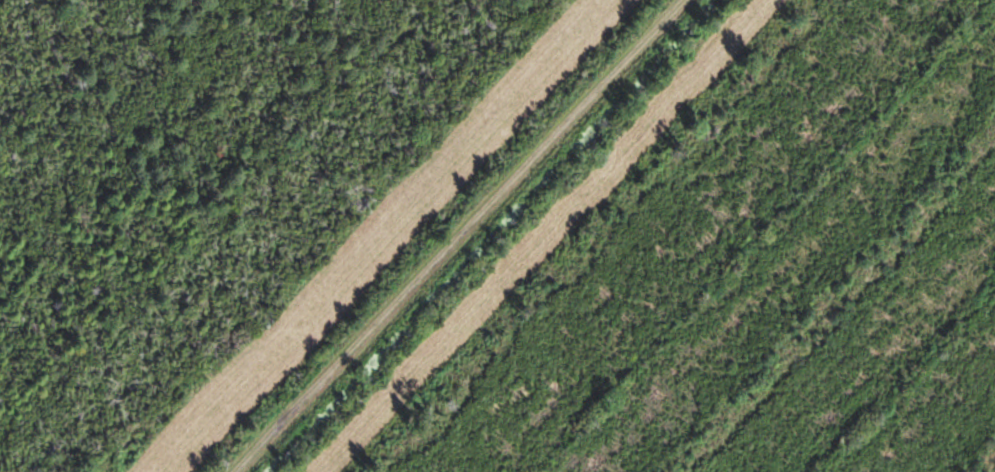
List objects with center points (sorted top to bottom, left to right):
road: (457, 236)

